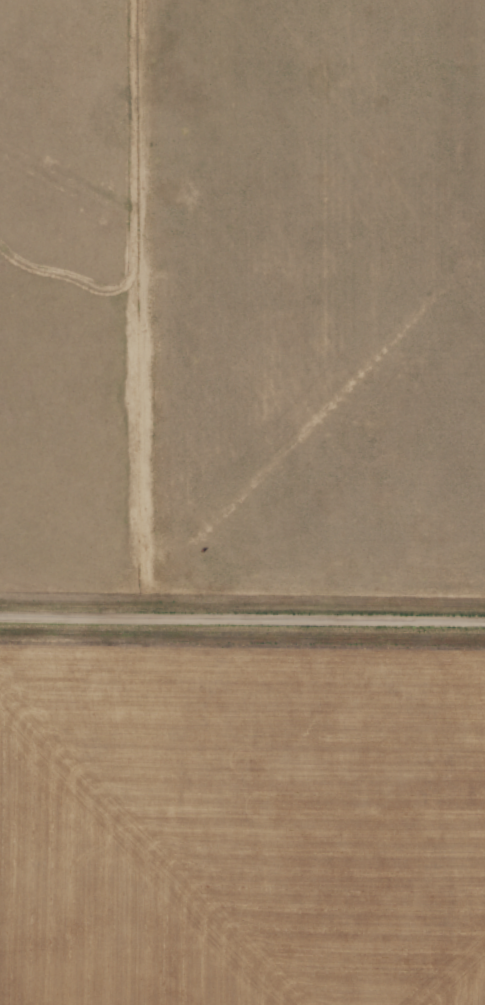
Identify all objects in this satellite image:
road: (242, 615)

